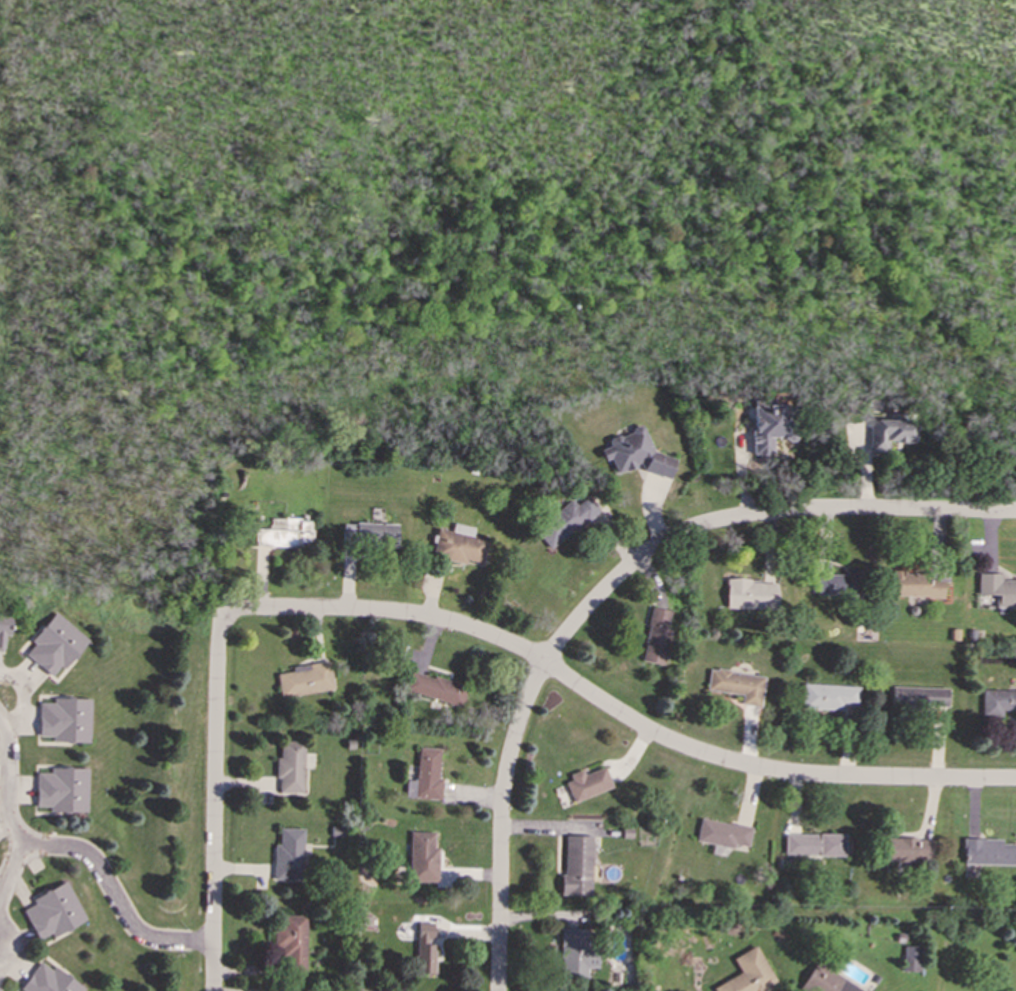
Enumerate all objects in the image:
building: (769, 427)
building: (889, 431)
building: (635, 454)
road: (751, 515)
building: (564, 521)
building: (285, 533)
building: (369, 535)
building: (457, 544)
building: (840, 583)
building: (914, 584)
building: (997, 589)
building: (750, 594)
building: (3, 626)
building: (655, 636)
building: (55, 644)
building: (305, 680)
building: (736, 684)
building: (435, 688)
building: (827, 696)
building: (918, 697)
building: (997, 701)
road: (616, 711)
building: (65, 720)
road: (215, 746)
building: (290, 767)
building: (425, 776)
building: (586, 783)
building: (63, 790)
road: (500, 823)
building: (722, 833)
building: (814, 844)
building: (906, 850)
road: (76, 851)
building: (988, 852)
building: (288, 854)
building: (422, 857)
building: (576, 865)
road: (11, 871)
building: (54, 911)
building: (289, 941)
building: (425, 947)
building: (576, 953)
building: (910, 958)
building: (748, 973)
building: (50, 980)
building: (826, 981)
building: (0, 989)

